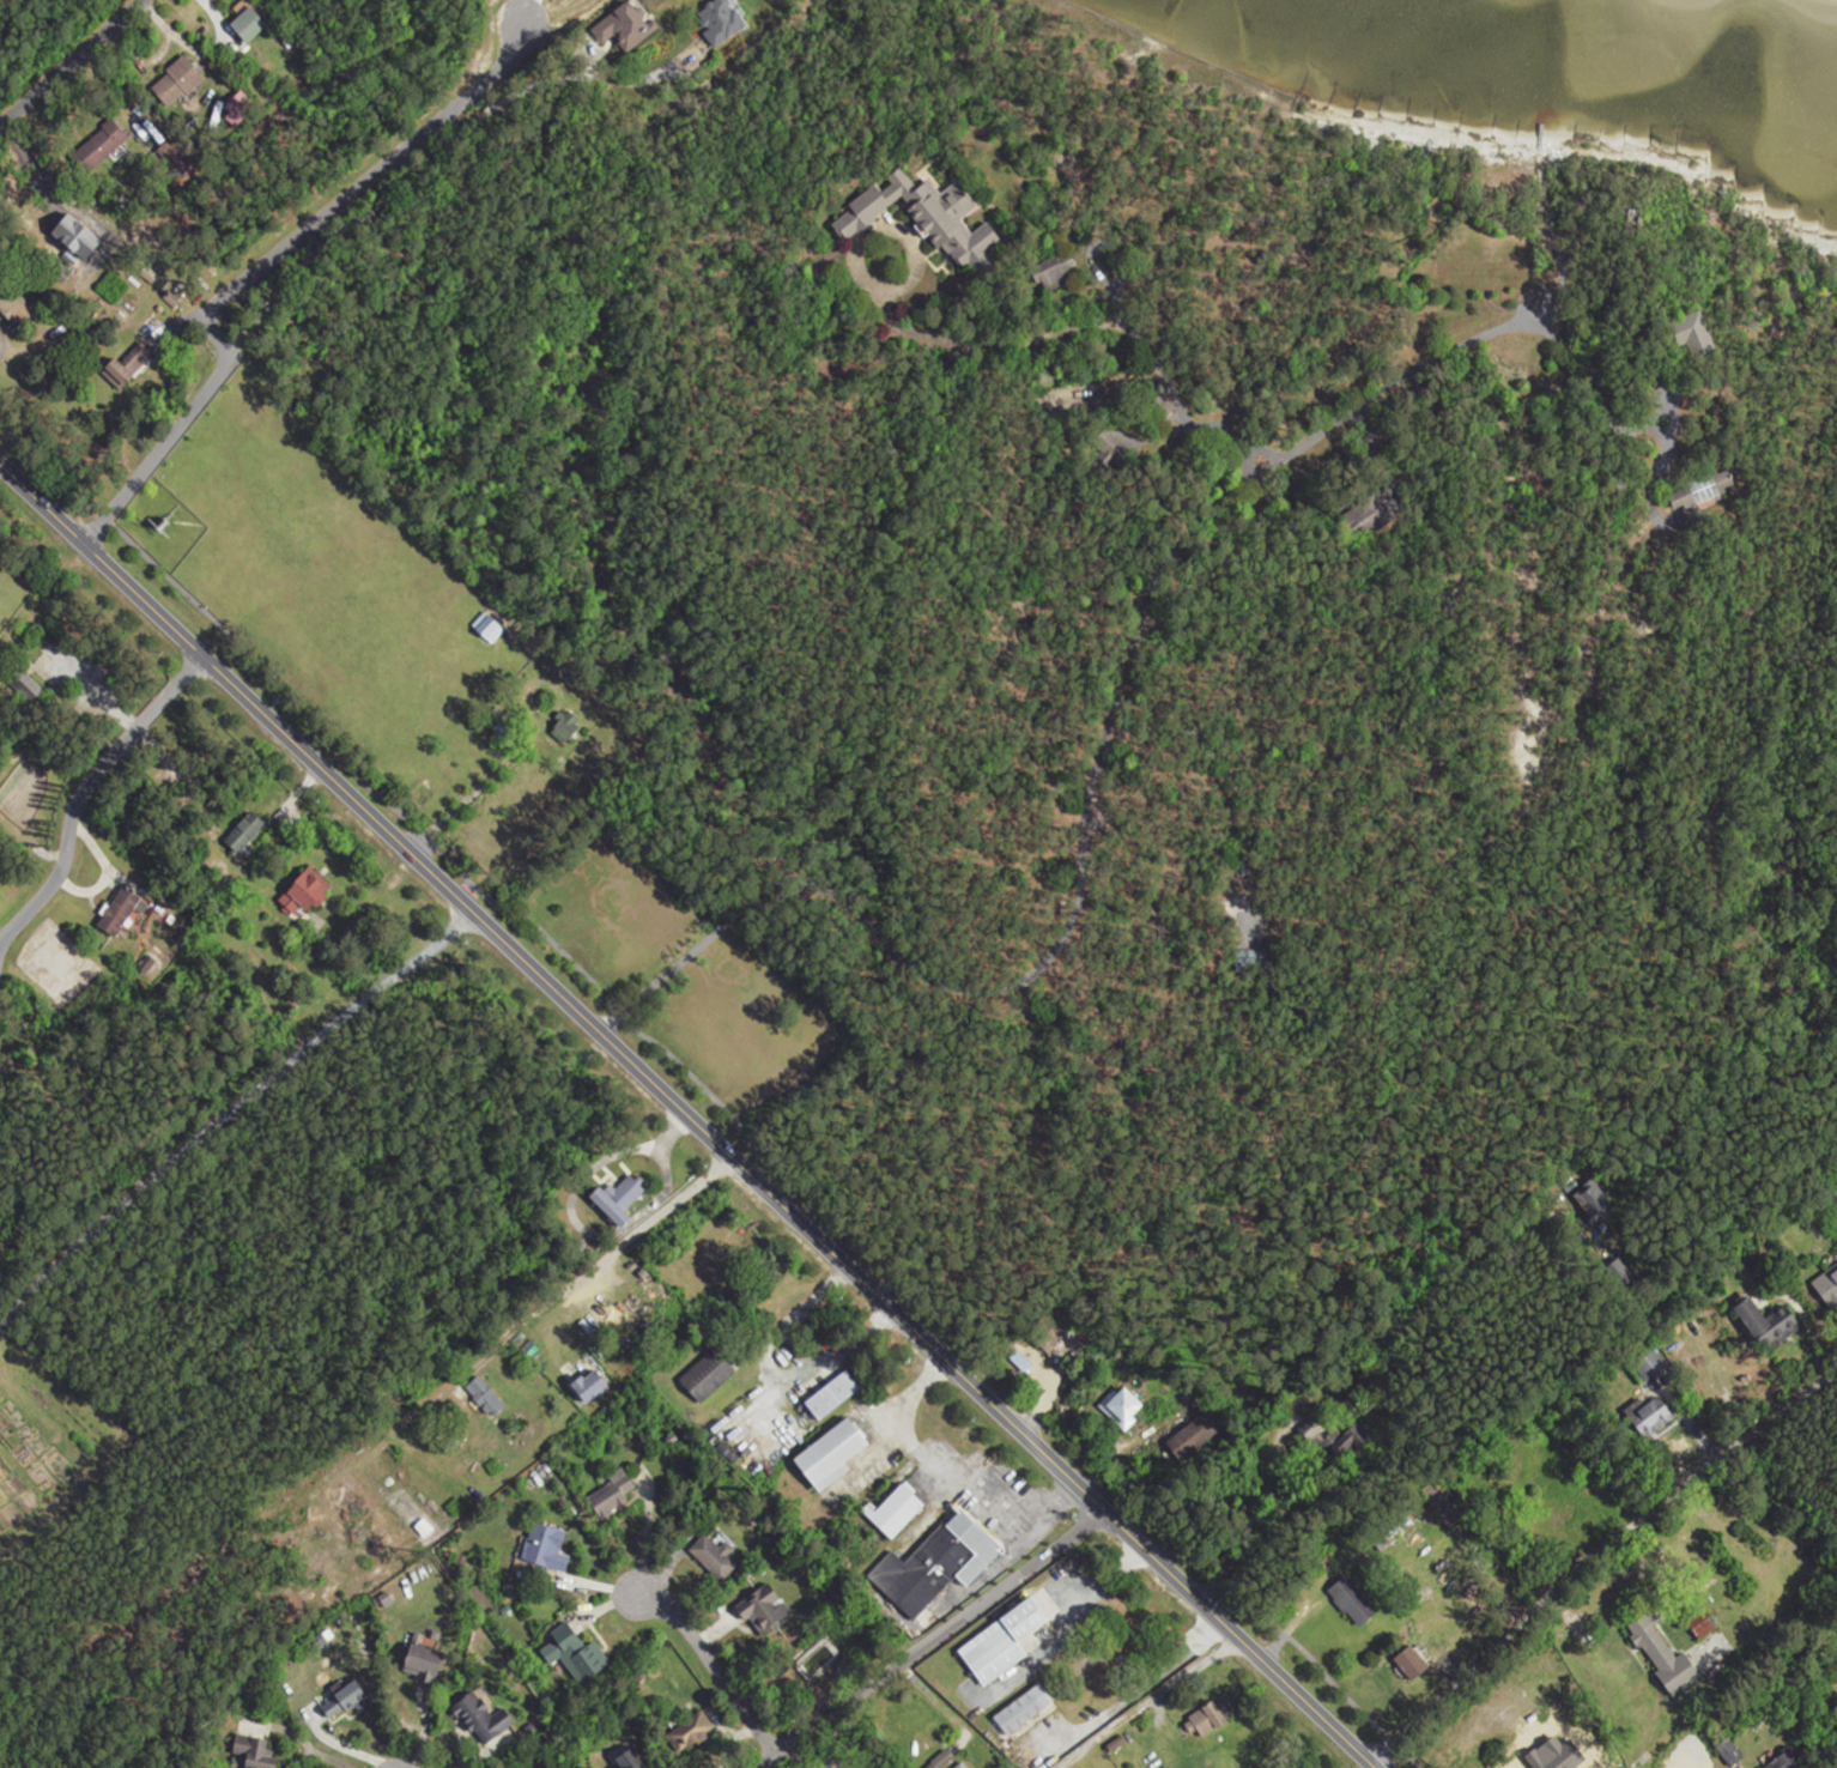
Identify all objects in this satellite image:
building: (721, 20)
building: (250, 24)
road: (69, 56)
pier: (1544, 77)
building: (177, 81)
building: (105, 143)
road: (428, 158)
building: (926, 214)
road: (257, 265)
building: (1055, 273)
building: (1495, 276)
building: (10, 301)
building: (128, 365)
building: (1700, 489)
building: (1375, 515)
building: (487, 628)
building: (25, 686)
building: (566, 727)
road: (80, 791)
building: (244, 834)
building: (309, 892)
building: (120, 913)
road: (1036, 970)
road: (709, 1091)
road: (228, 1106)
road: (686, 1116)
building: (1836, 1186)
building: (618, 1201)
road: (663, 1210)
building: (1827, 1286)
building: (1768, 1325)
building: (1649, 1364)
building: (707, 1375)
building: (592, 1386)
building: (832, 1395)
building: (1124, 1411)
building: (1649, 1417)
building: (1196, 1436)
building: (833, 1454)
building: (1559, 1510)
building: (895, 1513)
building: (546, 1549)
road: (1596, 1556)
building: (715, 1558)
building: (938, 1567)
building: (1352, 1603)
building: (765, 1612)
building: (1702, 1624)
road: (928, 1640)
building: (1011, 1642)
building: (1662, 1654)
building: (572, 1655)
road: (711, 1666)
building: (424, 1671)
road: (1181, 1679)
building: (344, 1700)
building: (1024, 1711)
building: (484, 1719)
building: (1207, 1721)
building: (691, 1733)
building: (257, 1755)
building: (625, 1761)
building: (1782, 1761)
building: (960, 1766)

